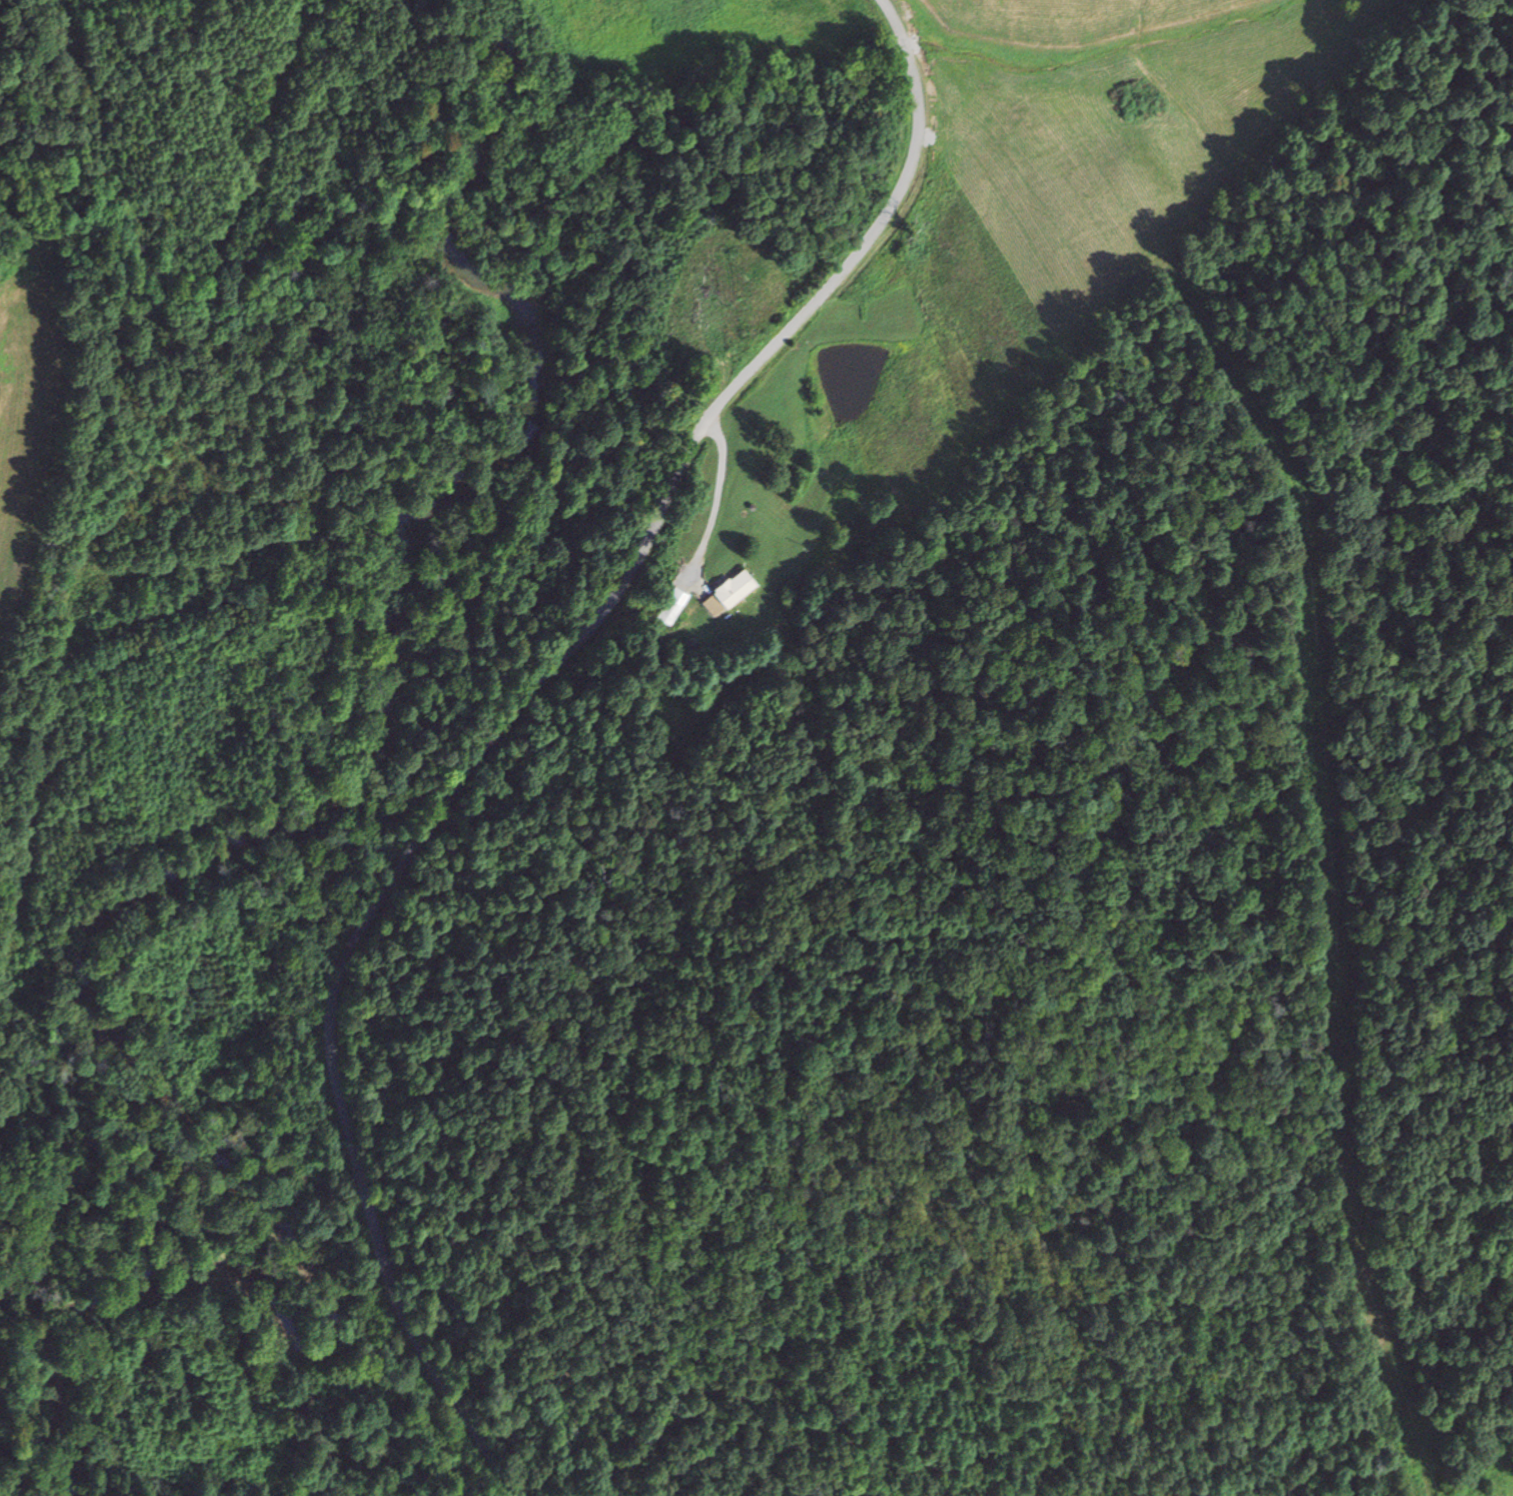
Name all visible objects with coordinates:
building: (727, 589)
road: (510, 720)

